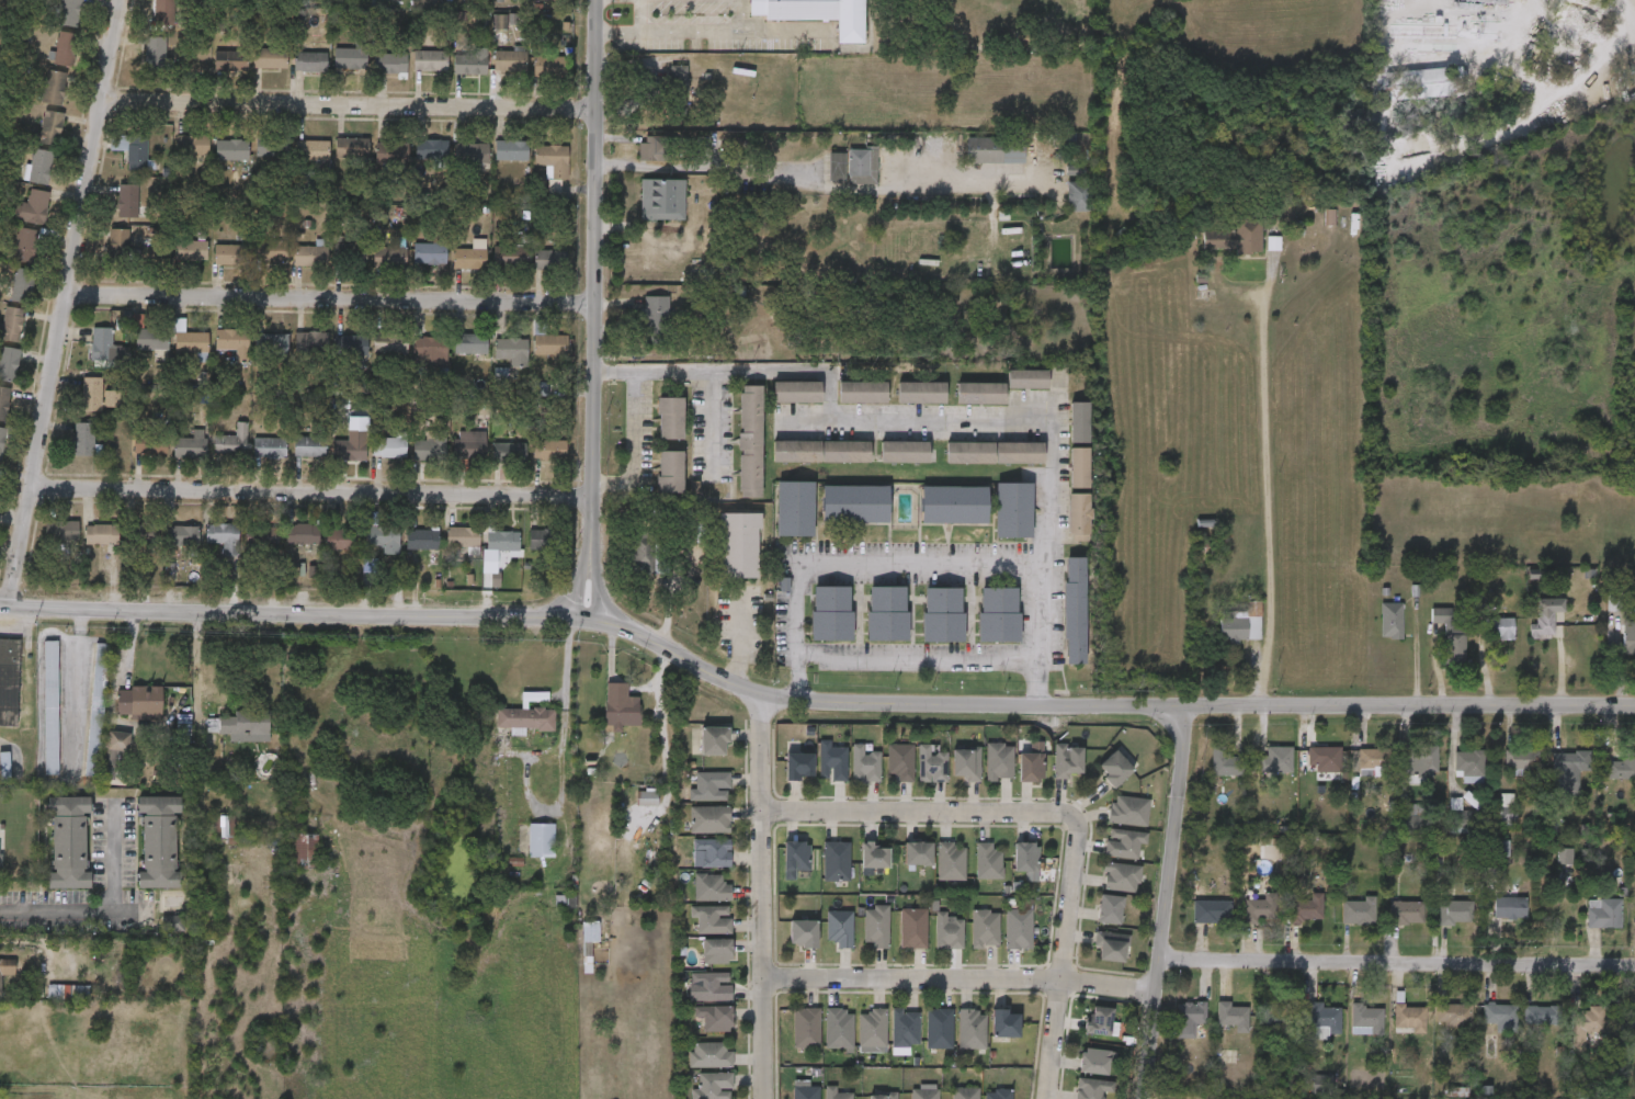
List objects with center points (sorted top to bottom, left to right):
building: (69, 12)
building: (162, 12)
building: (817, 13)
road: (740, 18)
building: (502, 22)
road: (782, 34)
road: (669, 36)
road: (1458, 36)
building: (1024, 37)
building: (66, 49)
building: (155, 53)
building: (270, 58)
building: (350, 58)
building: (430, 60)
building: (310, 61)
building: (470, 61)
building: (390, 63)
building: (510, 63)
building: (548, 66)
building: (678, 81)
building: (1435, 81)
building: (54, 88)
road: (350, 104)
building: (49, 127)
building: (268, 144)
building: (195, 147)
building: (655, 147)
building: (352, 148)
building: (996, 148)
building: (132, 150)
building: (231, 150)
building: (313, 150)
building: (431, 150)
building: (511, 150)
building: (475, 154)
building: (390, 156)
building: (553, 160)
building: (836, 163)
building: (861, 165)
building: (41, 166)
building: (1074, 170)
road: (787, 177)
building: (1078, 194)
building: (662, 196)
building: (127, 201)
building: (35, 206)
building: (1310, 233)
building: (25, 245)
building: (118, 247)
building: (190, 252)
building: (269, 252)
building: (429, 253)
building: (1218, 253)
building: (230, 254)
building: (350, 254)
building: (508, 256)
building: (306, 257)
building: (388, 259)
building: (465, 259)
building: (549, 260)
building: (347, 267)
building: (22, 285)
road: (331, 297)
road: (64, 306)
building: (656, 308)
road: (595, 309)
building: (11, 324)
building: (151, 340)
building: (271, 341)
building: (191, 342)
building: (310, 342)
building: (234, 343)
building: (101, 344)
building: (393, 344)
building: (470, 344)
building: (351, 345)
building: (550, 345)
building: (431, 349)
building: (511, 351)
building: (9, 363)
road: (736, 373)
building: (1026, 378)
building: (796, 392)
building: (862, 392)
building: (920, 393)
building: (979, 394)
building: (98, 396)
building: (3, 401)
building: (669, 419)
building: (1079, 423)
road: (709, 426)
road: (1052, 431)
building: (2, 437)
building: (82, 439)
building: (234, 441)
building: (749, 442)
building: (149, 443)
road: (632, 444)
building: (191, 446)
building: (470, 446)
building: (309, 447)
building: (408, 447)
building: (270, 449)
building: (548, 450)
building: (351, 451)
building: (820, 452)
building: (507, 453)
building: (904, 453)
building: (995, 453)
building: (1079, 468)
building: (670, 473)
road: (313, 491)
road: (1268, 499)
building: (854, 505)
building: (953, 506)
building: (794, 510)
building: (1012, 511)
building: (1078, 515)
building: (371, 518)
building: (61, 531)
building: (144, 533)
building: (99, 534)
building: (302, 534)
building: (383, 534)
building: (182, 535)
building: (224, 536)
building: (462, 537)
building: (342, 539)
building: (422, 539)
building: (545, 539)
building: (503, 541)
building: (738, 546)
building: (649, 555)
road: (855, 564)
building: (368, 566)
building: (1520, 589)
building: (1074, 611)
building: (830, 613)
building: (886, 613)
building: (942, 615)
building: (998, 615)
road: (8, 622)
road: (5, 630)
building: (1528, 633)
building: (1373, 635)
building: (1222, 639)
road: (740, 641)
building: (1483, 644)
building: (1432, 649)
building: (1619, 653)
road: (919, 660)
road: (196, 665)
building: (8, 682)
road: (624, 682)
road: (76, 683)
road: (808, 700)
building: (139, 701)
building: (50, 709)
building: (95, 711)
building: (621, 712)
building: (527, 713)
building: (243, 725)
building: (183, 728)
building: (117, 741)
building: (713, 741)
road: (665, 750)
building: (1276, 760)
building: (1324, 760)
building: (1374, 760)
building: (899, 761)
building: (1067, 761)
building: (1420, 761)
building: (830, 762)
building: (999, 762)
building: (1522, 762)
building: (931, 763)
building: (1225, 763)
building: (863, 764)
building: (965, 764)
building: (1469, 766)
building: (4, 767)
building: (797, 767)
building: (1030, 768)
building: (1622, 768)
building: (1114, 769)
building: (1568, 769)
building: (1305, 774)
building: (1259, 775)
building: (1501, 775)
building: (1401, 777)
building: (1353, 778)
building: (1206, 779)
building: (1100, 781)
building: (1451, 782)
building: (1605, 783)
building: (708, 786)
building: (1552, 786)
building: (646, 798)
building: (1127, 811)
building: (1507, 812)
road: (922, 813)
building: (708, 820)
building: (1488, 823)
building: (1114, 826)
building: (224, 828)
building: (1442, 832)
building: (1394, 834)
building: (541, 840)
building: (68, 843)
building: (158, 843)
building: (1123, 843)
building: (306, 851)
building: (712, 852)
building: (918, 854)
building: (873, 856)
building: (1565, 857)
building: (1025, 858)
building: (794, 859)
building: (1111, 859)
building: (951, 861)
building: (836, 862)
building: (987, 862)
building: (1546, 871)
building: (1121, 877)
building: (709, 888)
building: (1109, 893)
road: (761, 896)
road: (1167, 902)
building: (1509, 905)
building: (1109, 909)
building: (1306, 909)
building: (1259, 910)
road: (107, 911)
building: (1211, 913)
building: (1358, 913)
building: (1454, 913)
building: (1406, 914)
building: (1603, 914)
building: (1634, 914)
building: (711, 918)
building: (172, 922)
building: (1491, 922)
building: (1099, 924)
building: (1242, 924)
building: (1290, 924)
building: (1340, 926)
building: (875, 927)
building: (1192, 927)
building: (1435, 927)
building: (839, 928)
building: (984, 928)
building: (1388, 928)
building: (1585, 928)
building: (1625, 928)
building: (912, 929)
building: (1018, 929)
building: (590, 932)
building: (946, 932)
building: (803, 933)
building: (1110, 947)
building: (715, 951)
building: (1102, 961)
road: (1060, 963)
road: (1397, 964)
building: (5, 971)
road: (961, 977)
building: (711, 985)
building: (1281, 1013)
building: (1233, 1016)
building: (1453, 1016)
building: (1543, 1016)
building: (1501, 1017)
building: (713, 1018)
building: (1190, 1018)
building: (1409, 1019)
building: (1366, 1020)
building: (1589, 1020)
building: (1098, 1021)
building: (1324, 1021)
building: (1631, 1023)
building: (1004, 1024)
building: (805, 1028)
building: (872, 1028)
building: (904, 1028)
building: (838, 1029)
building: (939, 1029)
building: (972, 1030)
building: (1435, 1030)
building: (1520, 1030)
building: (1214, 1031)
building: (1252, 1032)
building: (1481, 1032)
building: (1171, 1033)
building: (1392, 1033)
building: (1572, 1034)
building: (1348, 1035)
building: (1304, 1036)
building: (1619, 1039)
building: (708, 1055)
building: (1094, 1062)
building: (1322, 1085)
building: (712, 1087)
building: (1091, 1088)
building: (804, 1090)
building: (834, 1094)
building: (923, 1094)
building: (964, 1094)
building: (1301, 1094)
building: (997, 1095)
building: (882, 1096)

